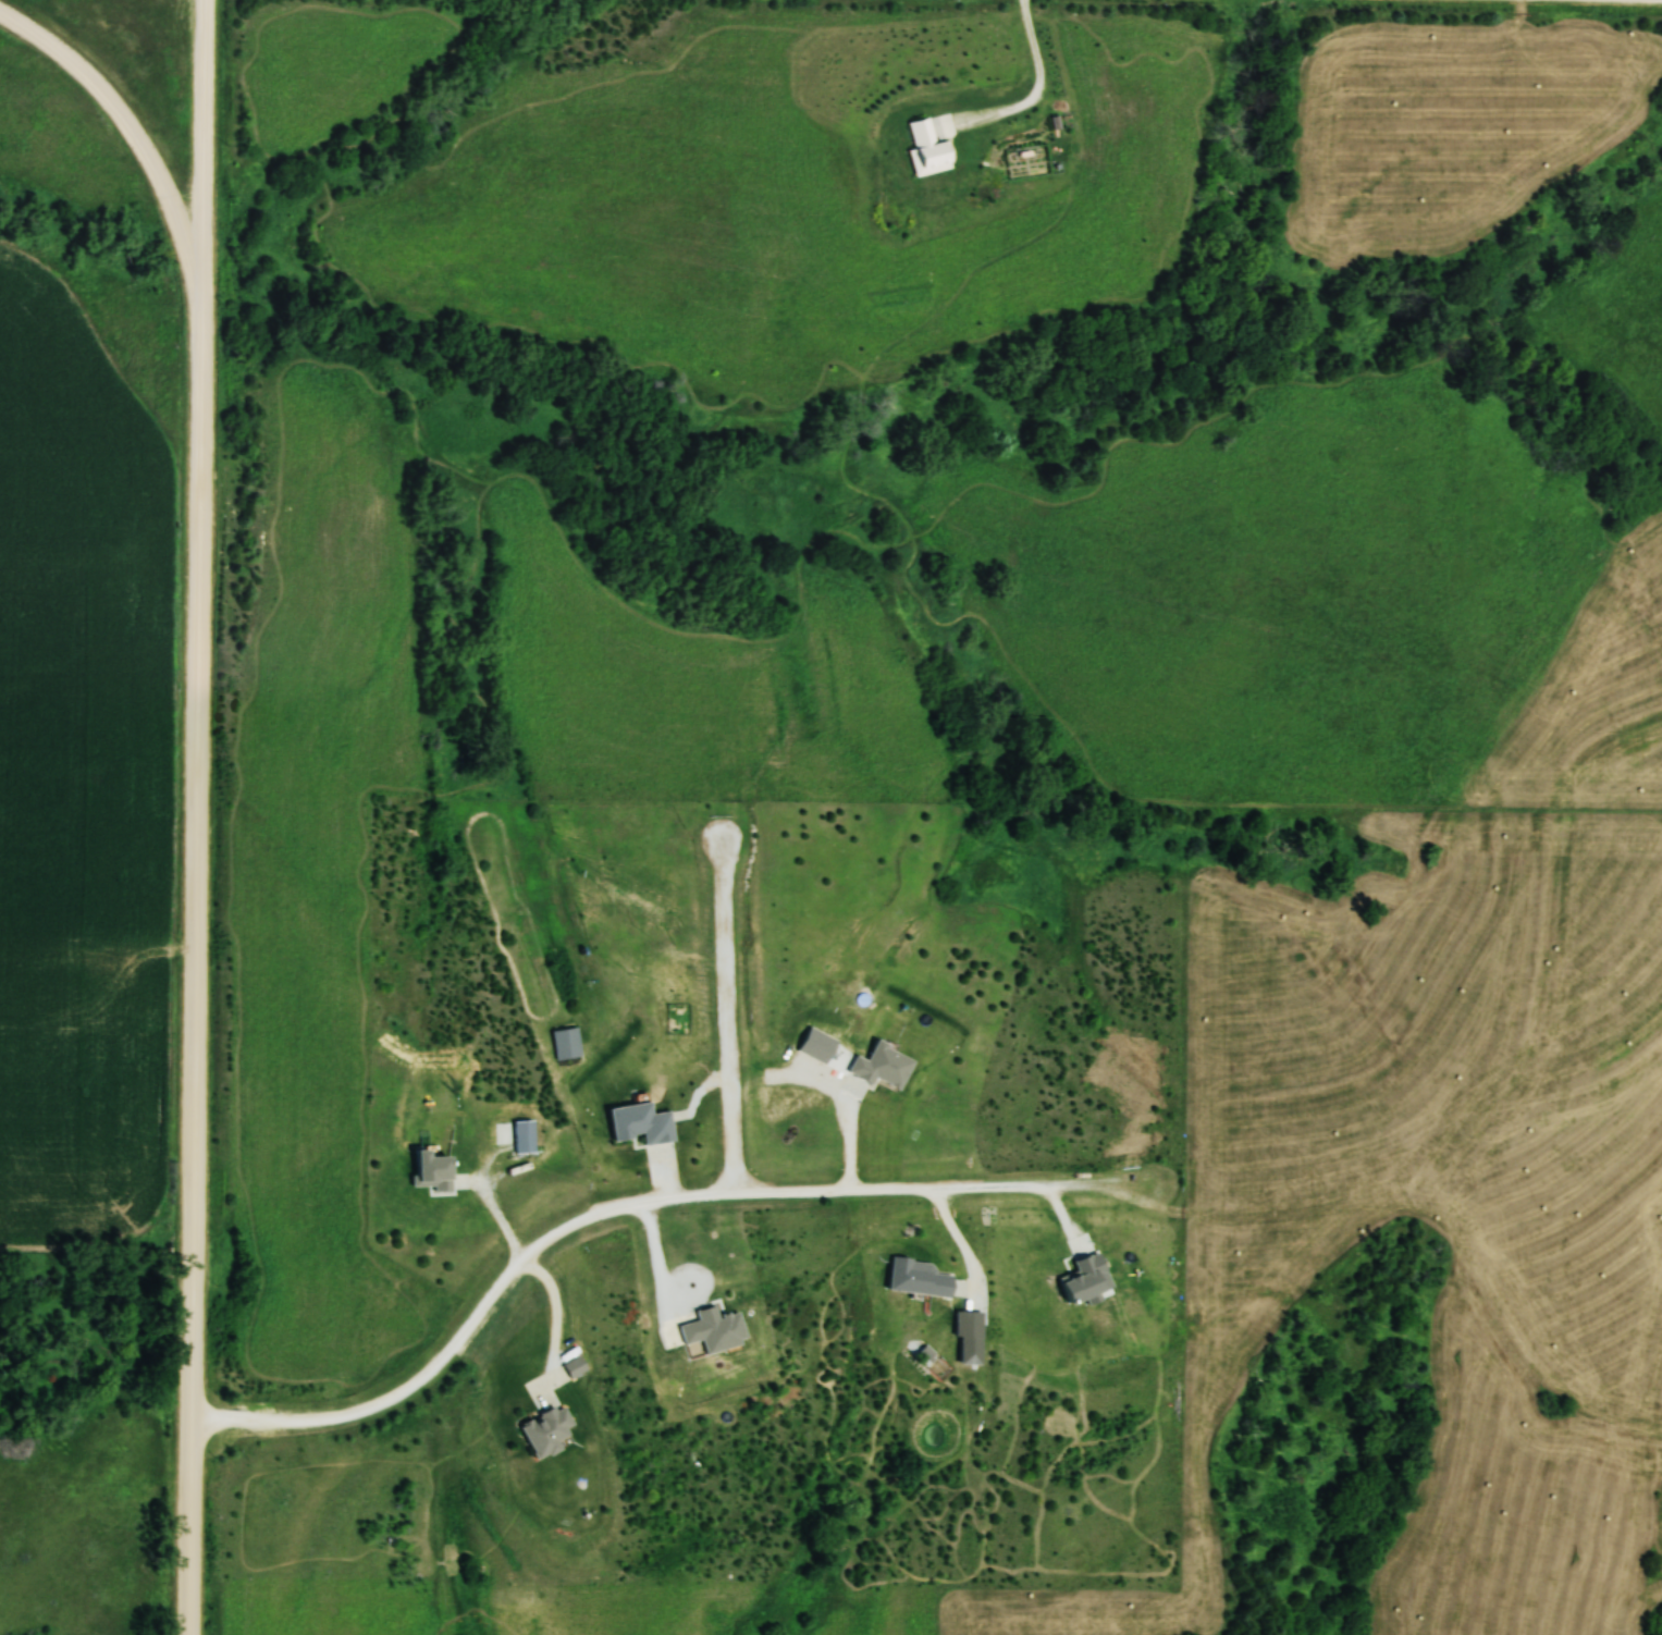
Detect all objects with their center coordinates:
road: (1038, 88)
road: (137, 131)
road: (204, 152)
road: (197, 860)
road: (725, 1017)
road: (848, 1119)
road: (799, 1195)
road: (497, 1213)
road: (963, 1245)
road: (670, 1291)
road: (556, 1304)
road: (358, 1410)
building: (538, 1431)
road: (190, 1500)
road: (188, 1610)

